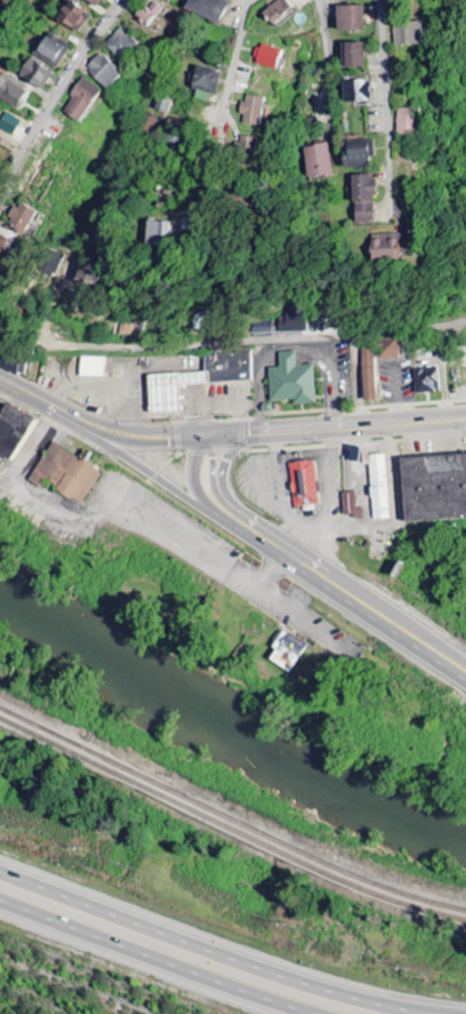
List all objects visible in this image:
building: (333, 0)
building: (98, 2)
road: (257, 6)
building: (209, 9)
building: (279, 11)
building: (149, 15)
building: (74, 17)
building: (349, 18)
building: (415, 33)
building: (122, 43)
building: (53, 50)
road: (329, 55)
building: (352, 55)
building: (271, 57)
building: (105, 71)
building: (37, 74)
building: (206, 82)
road: (375, 88)
building: (11, 90)
building: (354, 92)
road: (227, 99)
road: (56, 100)
building: (82, 100)
building: (165, 102)
building: (0, 109)
building: (253, 111)
building: (405, 122)
building: (10, 124)
road: (11, 140)
building: (249, 146)
building: (357, 153)
building: (321, 161)
building: (363, 199)
building: (23, 217)
building: (155, 234)
building: (386, 247)
building: (5, 252)
building: (53, 263)
road: (56, 298)
building: (286, 322)
building: (133, 327)
road: (233, 340)
building: (392, 348)
building: (370, 374)
road: (360, 379)
building: (426, 381)
building: (292, 382)
building: (177, 388)
gas station: (177, 388)
road: (41, 401)
road: (332, 425)
building: (12, 431)
road: (139, 434)
road: (149, 473)
building: (65, 475)
road: (200, 479)
building: (307, 482)
building: (379, 488)
building: (434, 488)
building: (352, 506)
road: (119, 515)
road: (344, 592)
building: (293, 649)
river: (223, 729)
railway: (224, 815)
road: (220, 951)
road: (151, 960)

